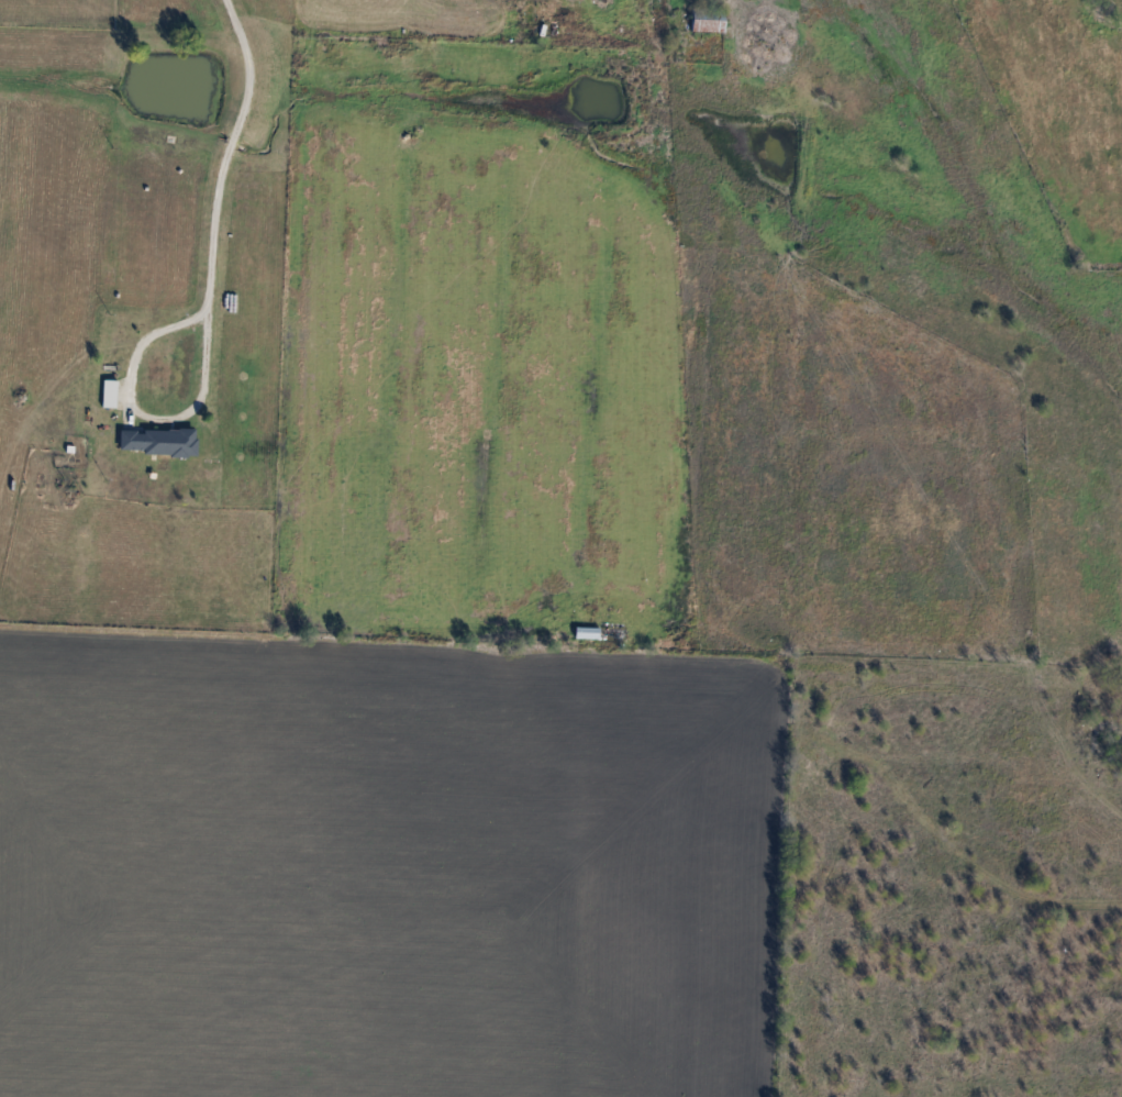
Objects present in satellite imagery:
building: (707, 21)
road: (227, 152)
road: (147, 411)
building: (156, 441)

